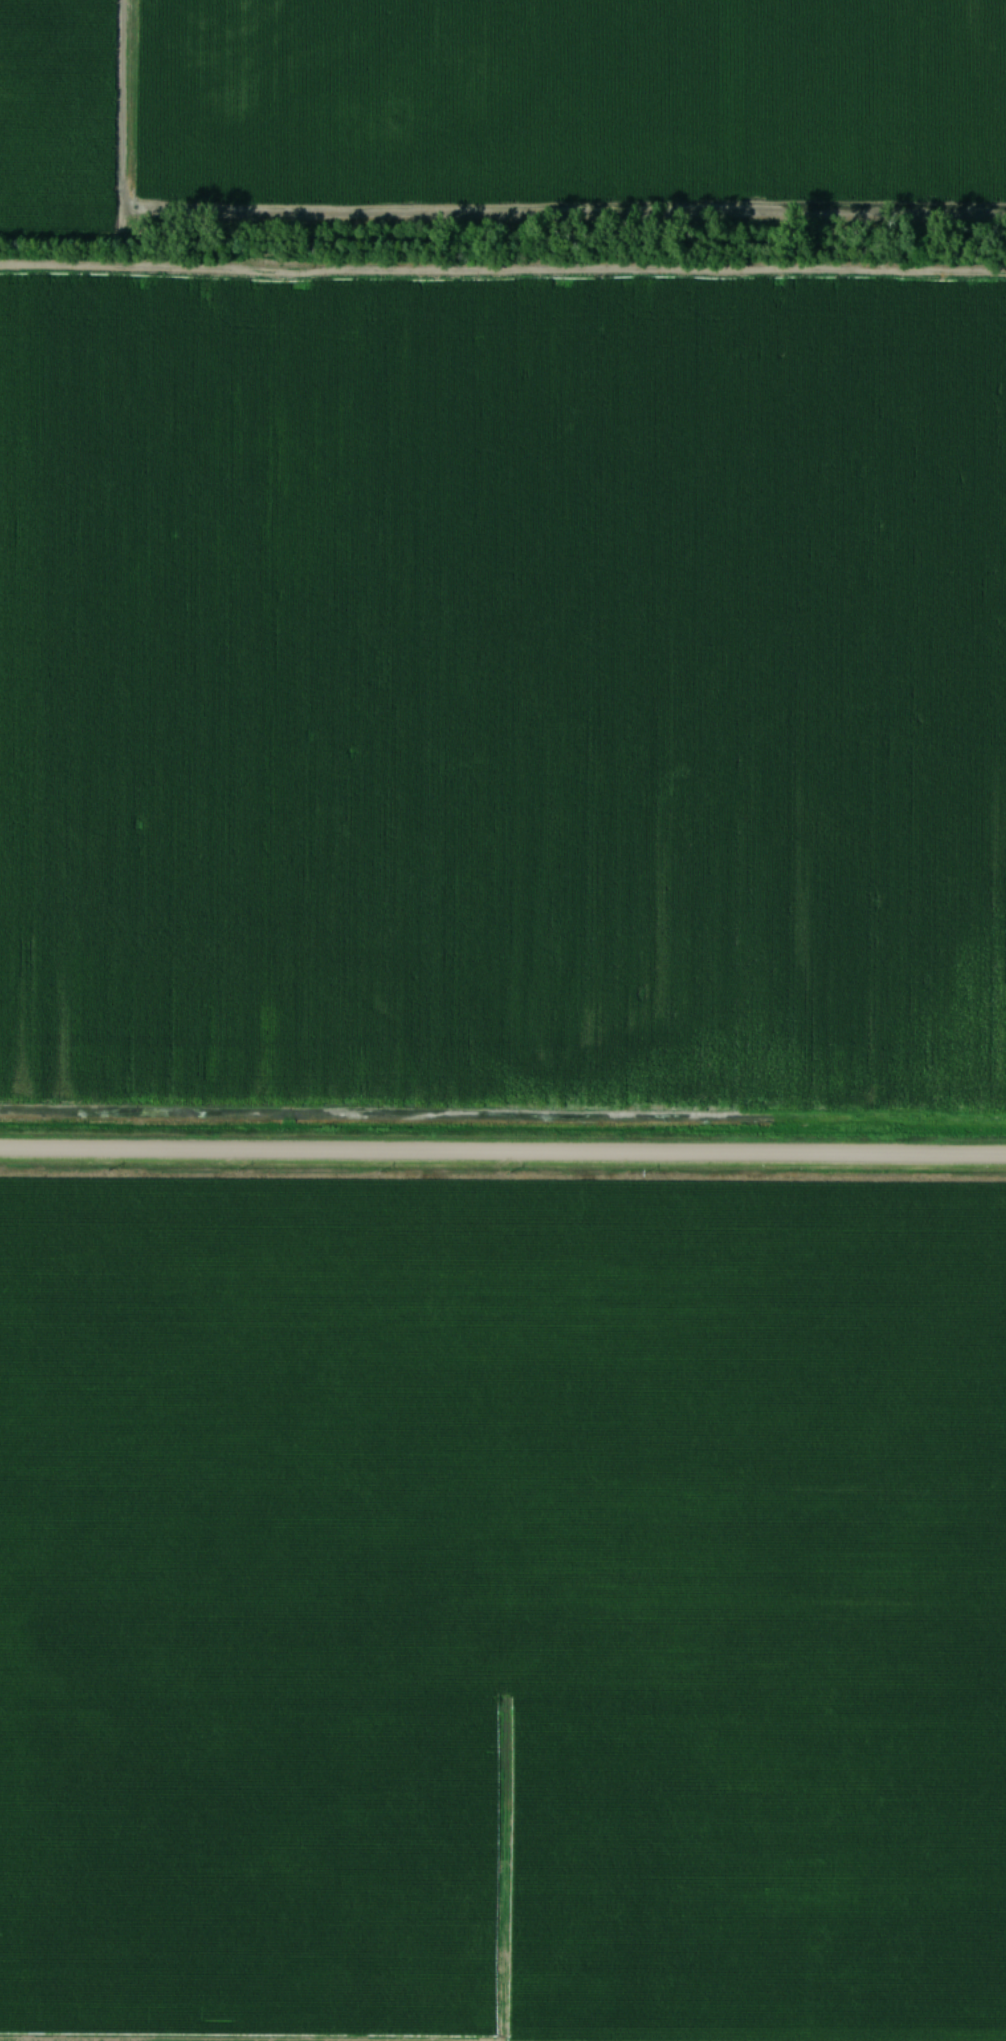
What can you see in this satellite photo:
crop: (58, 110)
road: (503, 1154)

